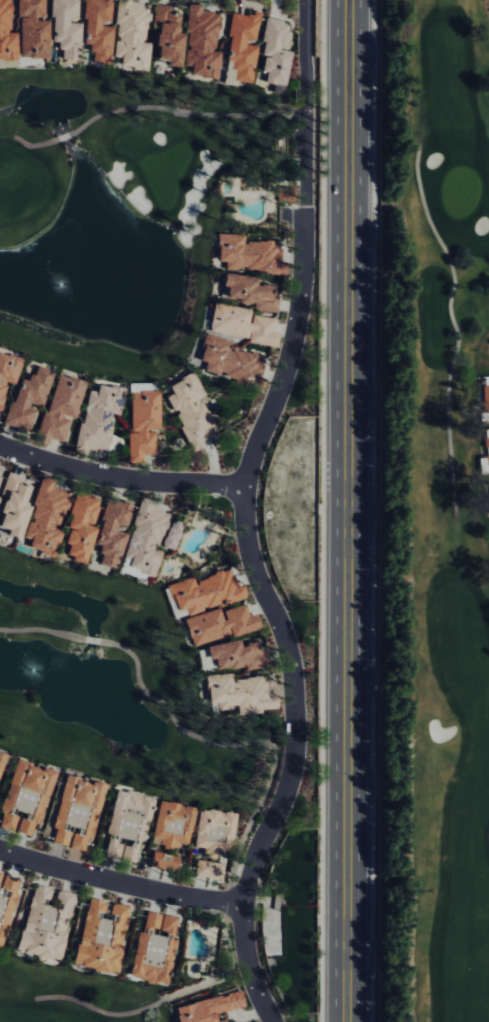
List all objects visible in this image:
building: (96, 29)
building: (31, 30)
building: (63, 30)
building: (6, 34)
building: (129, 35)
building: (165, 36)
building: (200, 43)
building: (239, 49)
building: (274, 54)
road: (186, 112)
road: (64, 136)
road: (34, 144)
park: (115, 210)
building: (247, 254)
fountain: (60, 285)
building: (247, 292)
building: (241, 325)
building: (227, 360)
building: (6, 371)
building: (485, 395)
building: (24, 399)
building: (57, 409)
building: (187, 411)
building: (95, 418)
building: (140, 424)
building: (484, 455)
road: (120, 478)
building: (488, 487)
building: (10, 505)
road: (351, 511)
park: (432, 517)
building: (43, 519)
road: (245, 519)
building: (78, 527)
building: (109, 532)
building: (169, 536)
building: (143, 539)
building: (203, 593)
building: (217, 625)
road: (40, 629)
road: (91, 640)
building: (232, 656)
park: (115, 689)
building: (238, 694)
road: (235, 741)
building: (1, 758)
building: (24, 796)
building: (73, 814)
building: (123, 824)
building: (170, 824)
building: (212, 832)
building: (161, 862)
building: (207, 870)
road: (120, 878)
building: (6, 902)
building: (44, 924)
building: (100, 937)
building: (151, 950)
park: (73, 996)
building: (207, 1008)
building: (222, 1021)

